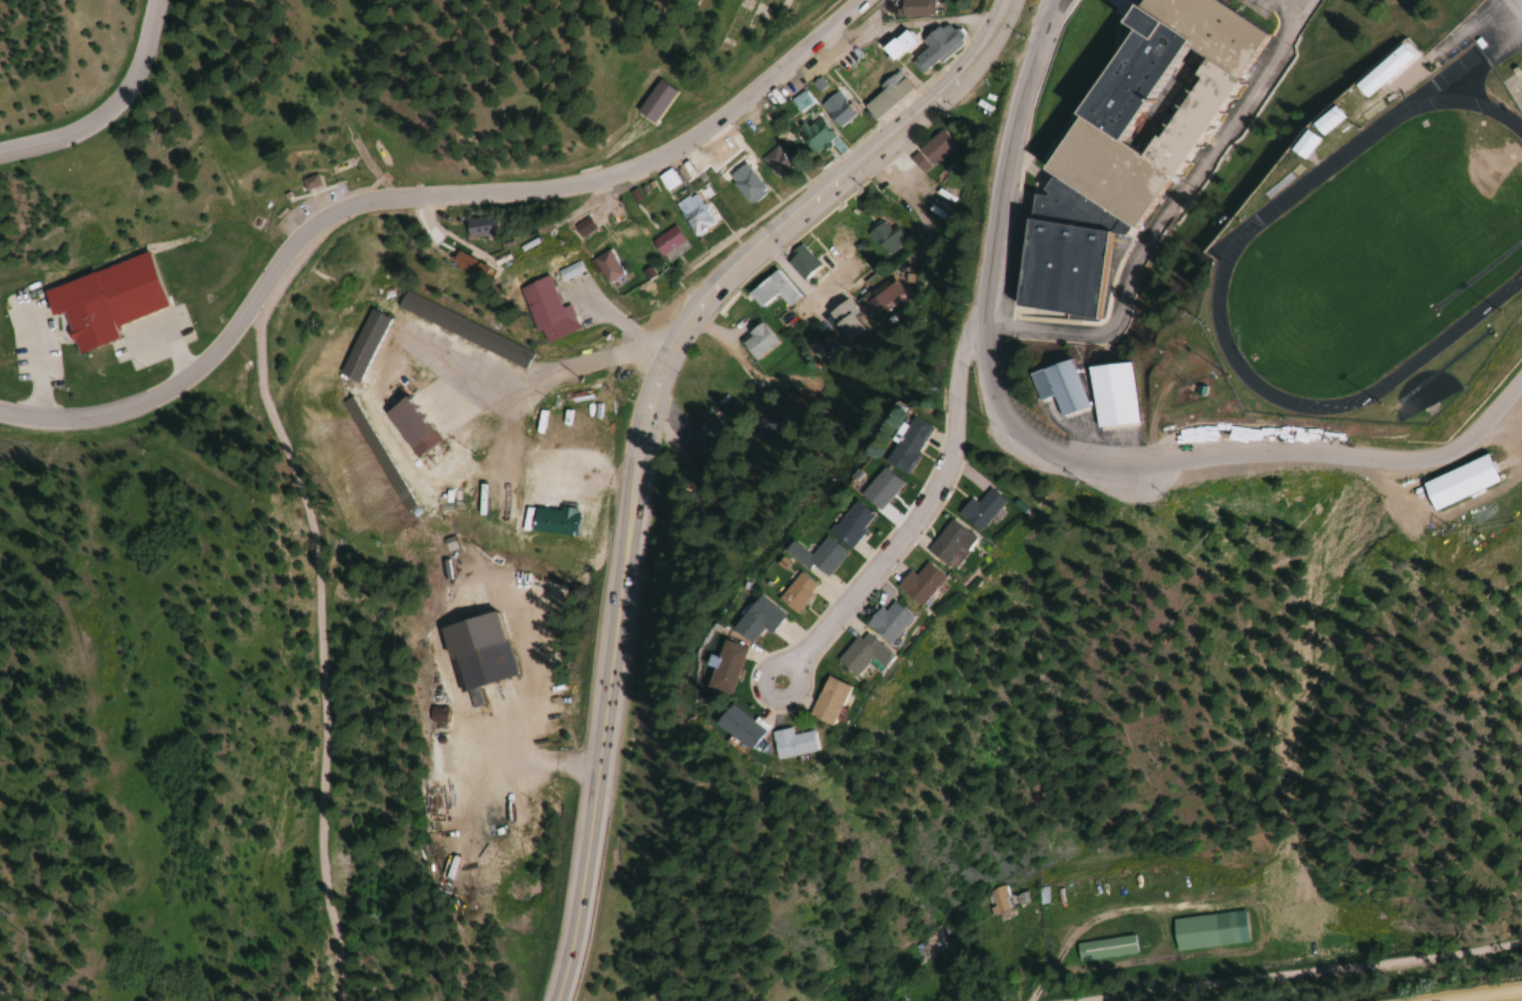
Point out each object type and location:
road: (1519, 3)
building: (913, 7)
road: (1046, 14)
road: (1001, 19)
building: (893, 45)
building: (932, 46)
building: (1397, 53)
building: (1371, 79)
building: (883, 96)
building: (798, 100)
building: (651, 102)
road: (106, 106)
building: (834, 108)
building: (1313, 131)
building: (812, 133)
building: (1119, 148)
building: (931, 151)
building: (773, 163)
building: (665, 180)
building: (305, 182)
building: (742, 182)
road: (414, 196)
building: (691, 214)
road: (1167, 214)
building: (472, 227)
track: (1235, 235)
building: (885, 237)
stadium: (1378, 237)
building: (666, 244)
building: (799, 261)
building: (603, 268)
building: (566, 271)
building: (103, 281)
building: (771, 290)
building: (884, 298)
building: (540, 310)
road: (167, 318)
building: (844, 320)
parking lot: (153, 321)
parking lot: (30, 322)
building: (439, 325)
building: (756, 341)
road: (37, 345)
building: (823, 349)
building: (1055, 387)
building: (1108, 396)
building: (793, 400)
building: (769, 423)
building: (410, 426)
building: (706, 436)
building: (902, 446)
road: (642, 452)
road: (1072, 463)
building: (1450, 484)
building: (870, 490)
building: (975, 510)
road: (904, 525)
building: (837, 526)
building: (938, 544)
building: (799, 560)
building: (905, 587)
building: (774, 596)
road: (315, 617)
building: (731, 623)
building: (867, 626)
building: (837, 658)
building: (480, 669)
building: (696, 672)
building: (797, 707)
building: (706, 733)
building: (758, 750)
building: (997, 904)
building: (1208, 930)
building: (927, 945)
building: (1103, 948)
road: (1303, 972)
road: (1496, 997)

